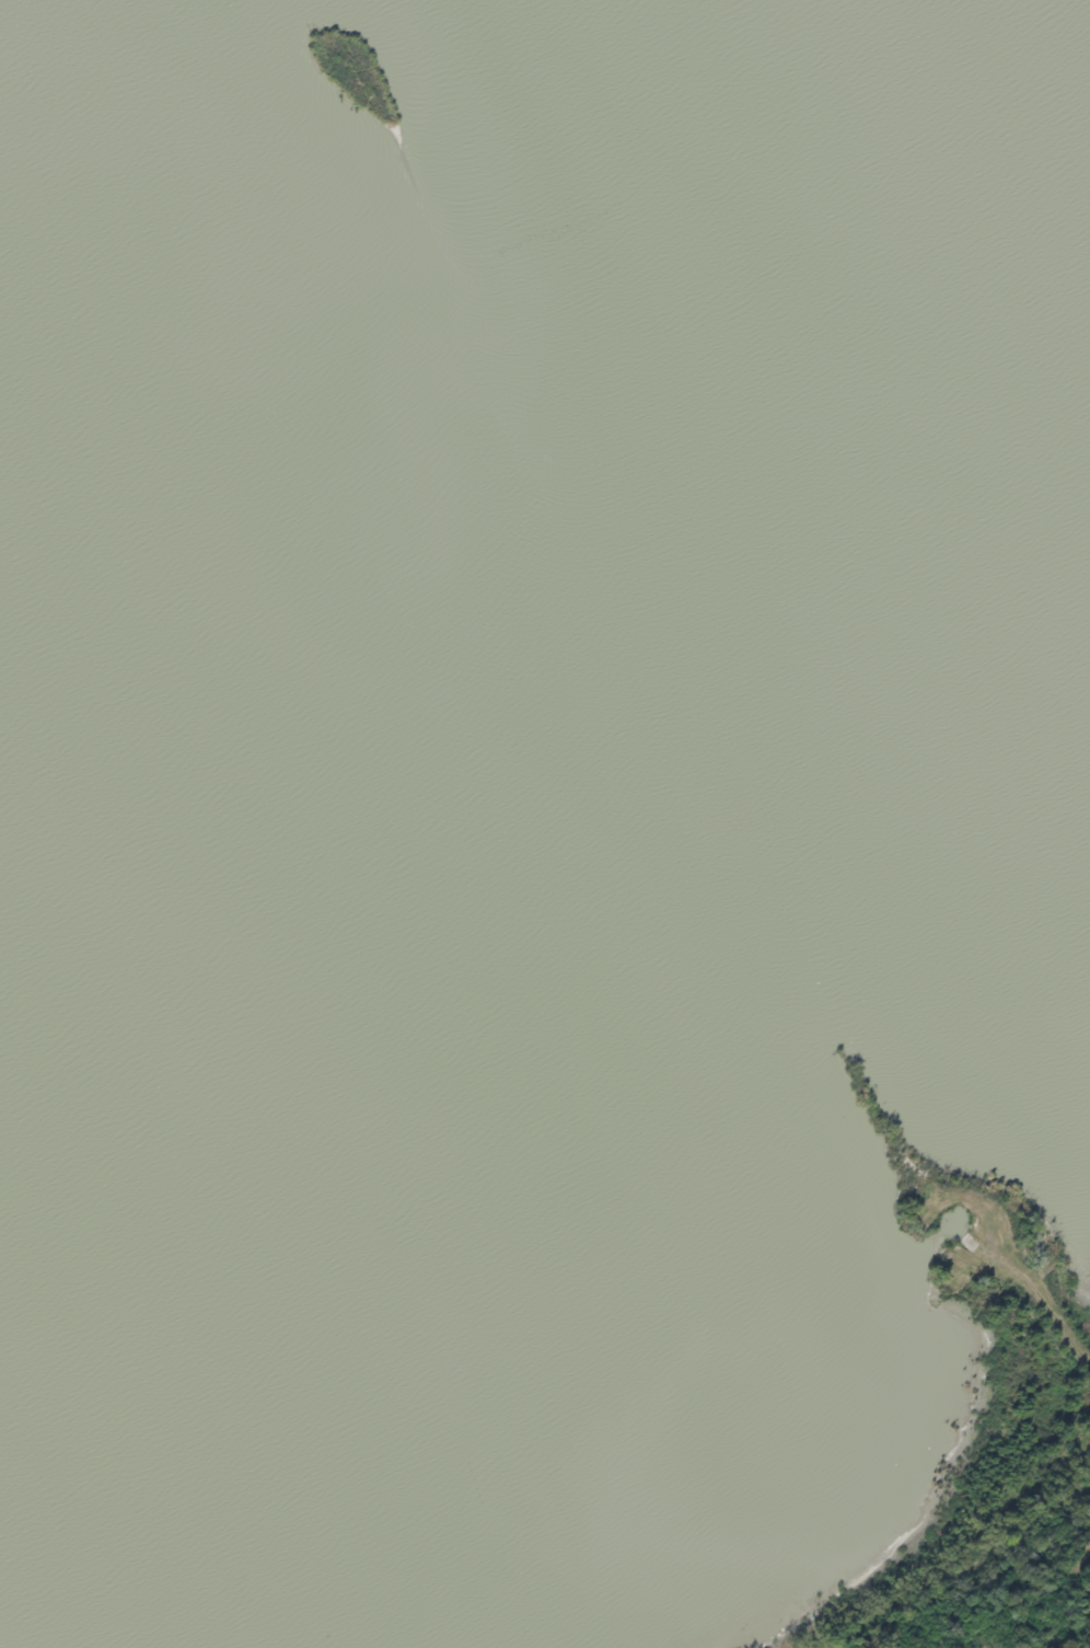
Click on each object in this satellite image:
road: (1035, 1299)

